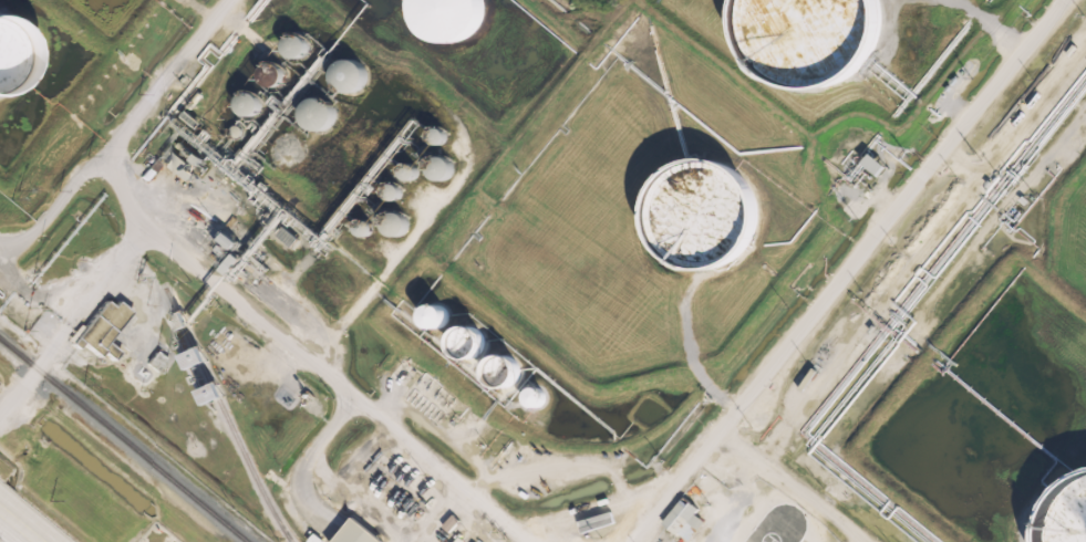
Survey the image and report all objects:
building: (448, 18)
storage tank: (448, 18)
building: (813, 38)
storage tank: (813, 38)
building: (298, 45)
building: (12, 56)
storage tank: (12, 56)
building: (275, 75)
building: (351, 75)
building: (251, 104)
building: (320, 114)
road: (111, 124)
building: (236, 132)
building: (439, 136)
building: (174, 163)
building: (875, 164)
building: (443, 168)
building: (411, 173)
building: (393, 192)
building: (705, 216)
storage tank: (705, 216)
building: (397, 225)
building: (364, 229)
road: (101, 273)
road: (840, 274)
building: (437, 317)
building: (179, 322)
building: (103, 327)
building: (469, 342)
building: (196, 357)
building: (505, 372)
road: (342, 379)
building: (535, 398)
railway: (228, 414)
railway: (123, 440)
road: (799, 481)
building: (676, 511)
building: (1066, 514)
storage tank: (1066, 514)
road: (20, 524)
building: (352, 533)
helipad: (772, 534)

